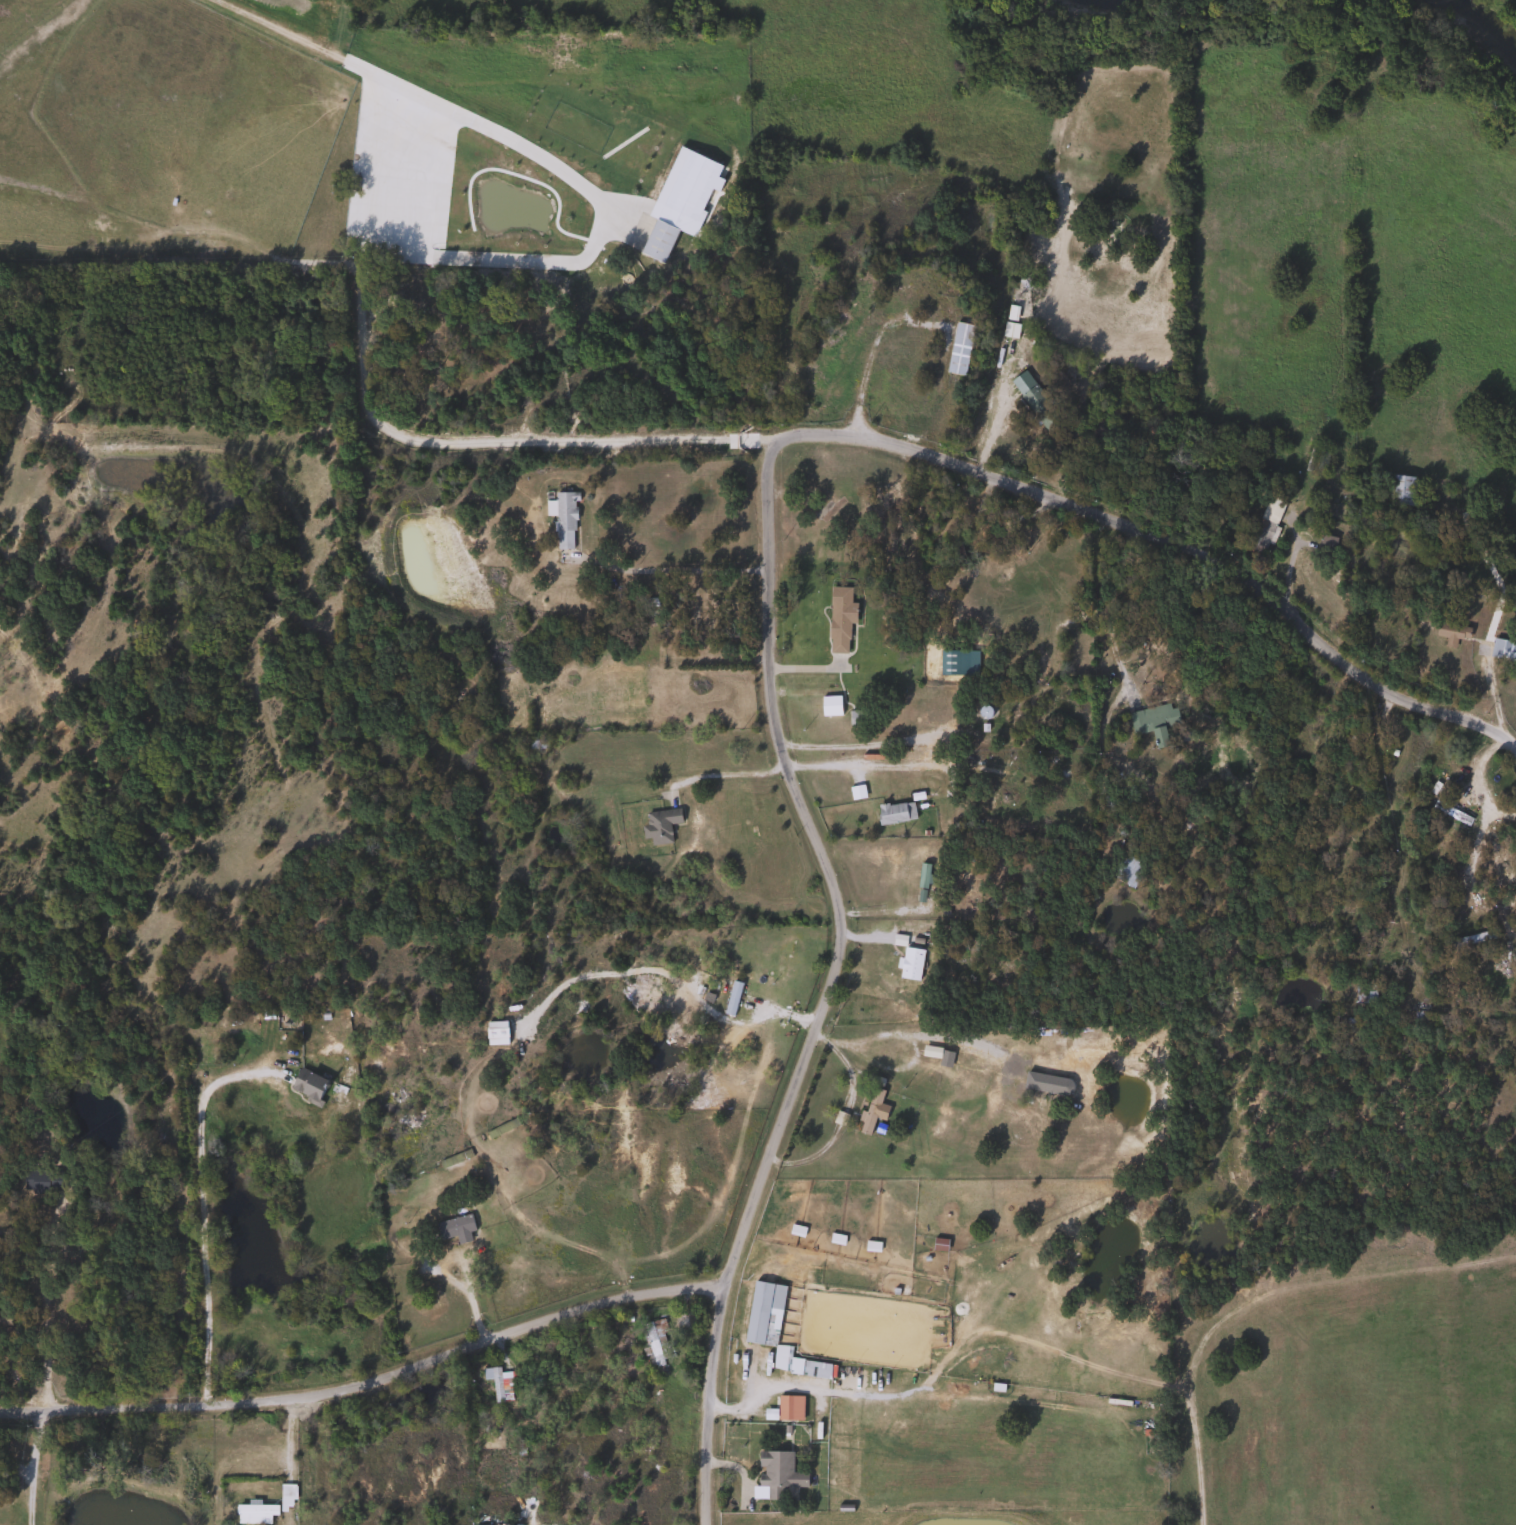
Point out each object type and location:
river: (1102, 1)
river: (1482, 27)
airport runway: (409, 94)
building: (656, 240)
building: (834, 319)
building: (957, 348)
road: (866, 363)
building: (1038, 407)
building: (1320, 456)
building: (1398, 490)
building: (561, 519)
building: (1264, 524)
building: (1324, 543)
building: (1010, 544)
road: (1165, 545)
building: (954, 550)
road: (670, 570)
building: (649, 610)
road: (1106, 613)
building: (838, 618)
building: (1450, 633)
building: (1502, 650)
road: (1492, 694)
building: (828, 706)
building: (855, 719)
building: (1152, 724)
road: (889, 742)
road: (726, 776)
building: (893, 812)
building: (1449, 813)
building: (657, 825)
building: (1340, 862)
building: (1124, 870)
road: (1467, 871)
building: (921, 887)
building: (1468, 940)
building: (778, 962)
building: (908, 963)
road: (824, 986)
building: (1418, 1017)
building: (1047, 1081)
building: (306, 1085)
building: (868, 1113)
building: (39, 1181)
road: (200, 1221)
building: (452, 1229)
building: (762, 1314)
road: (44, 1316)
building: (655, 1342)
road: (366, 1381)
building: (497, 1384)
road: (761, 1390)
building: (784, 1408)
road: (28, 1467)
building: (776, 1475)
building: (286, 1492)
building: (252, 1514)

